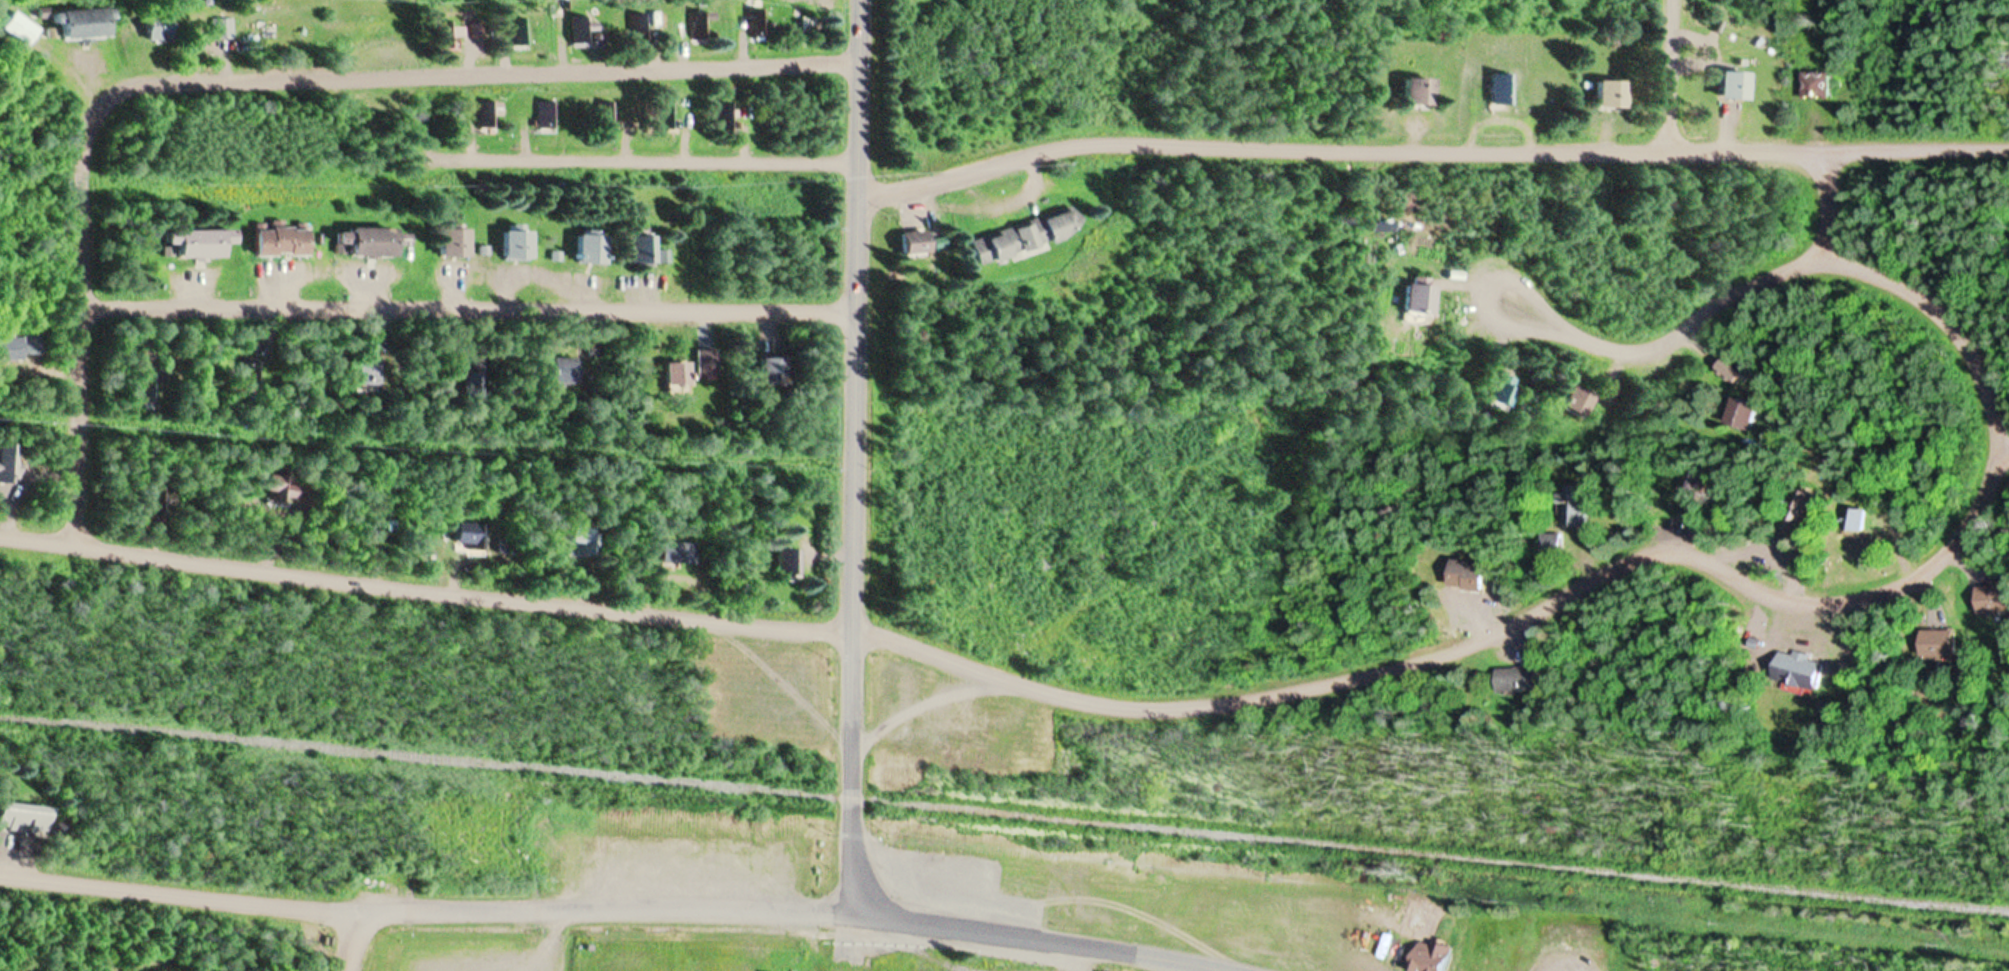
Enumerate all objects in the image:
building: (757, 22)
building: (82, 23)
building: (805, 25)
building: (221, 27)
building: (641, 27)
building: (22, 28)
building: (698, 28)
building: (580, 29)
building: (156, 31)
building: (521, 31)
building: (450, 35)
road: (478, 71)
road: (1678, 76)
building: (1731, 85)
building: (1501, 87)
building: (1415, 90)
building: (1608, 94)
building: (610, 114)
building: (492, 115)
building: (550, 115)
building: (666, 115)
building: (729, 115)
road: (1432, 149)
road: (648, 160)
road: (1827, 202)
building: (1026, 235)
building: (279, 239)
building: (366, 241)
building: (912, 241)
building: (194, 242)
building: (452, 242)
building: (514, 243)
building: (588, 248)
building: (641, 248)
building: (1412, 298)
road: (475, 311)
road: (1943, 318)
road: (93, 325)
building: (31, 344)
road: (1660, 346)
building: (8, 347)
building: (708, 362)
building: (772, 369)
building: (561, 370)
building: (1726, 370)
building: (676, 372)
building: (363, 373)
building: (473, 380)
building: (1499, 390)
building: (1573, 401)
building: (1740, 412)
road: (856, 455)
building: (7, 463)
building: (278, 488)
building: (156, 498)
building: (1572, 505)
building: (1794, 508)
building: (1850, 519)
building: (471, 535)
building: (586, 540)
building: (677, 552)
building: (785, 563)
building: (1466, 574)
building: (1991, 597)
building: (1936, 643)
building: (1796, 668)
building: (1515, 679)
road: (1066, 688)
road: (925, 693)
railway: (1005, 803)
building: (23, 819)
ski resort: (868, 891)
road: (424, 916)
road: (1061, 936)
road: (354, 944)
parking lot: (481, 948)
building: (1426, 956)
building: (1547, 970)

